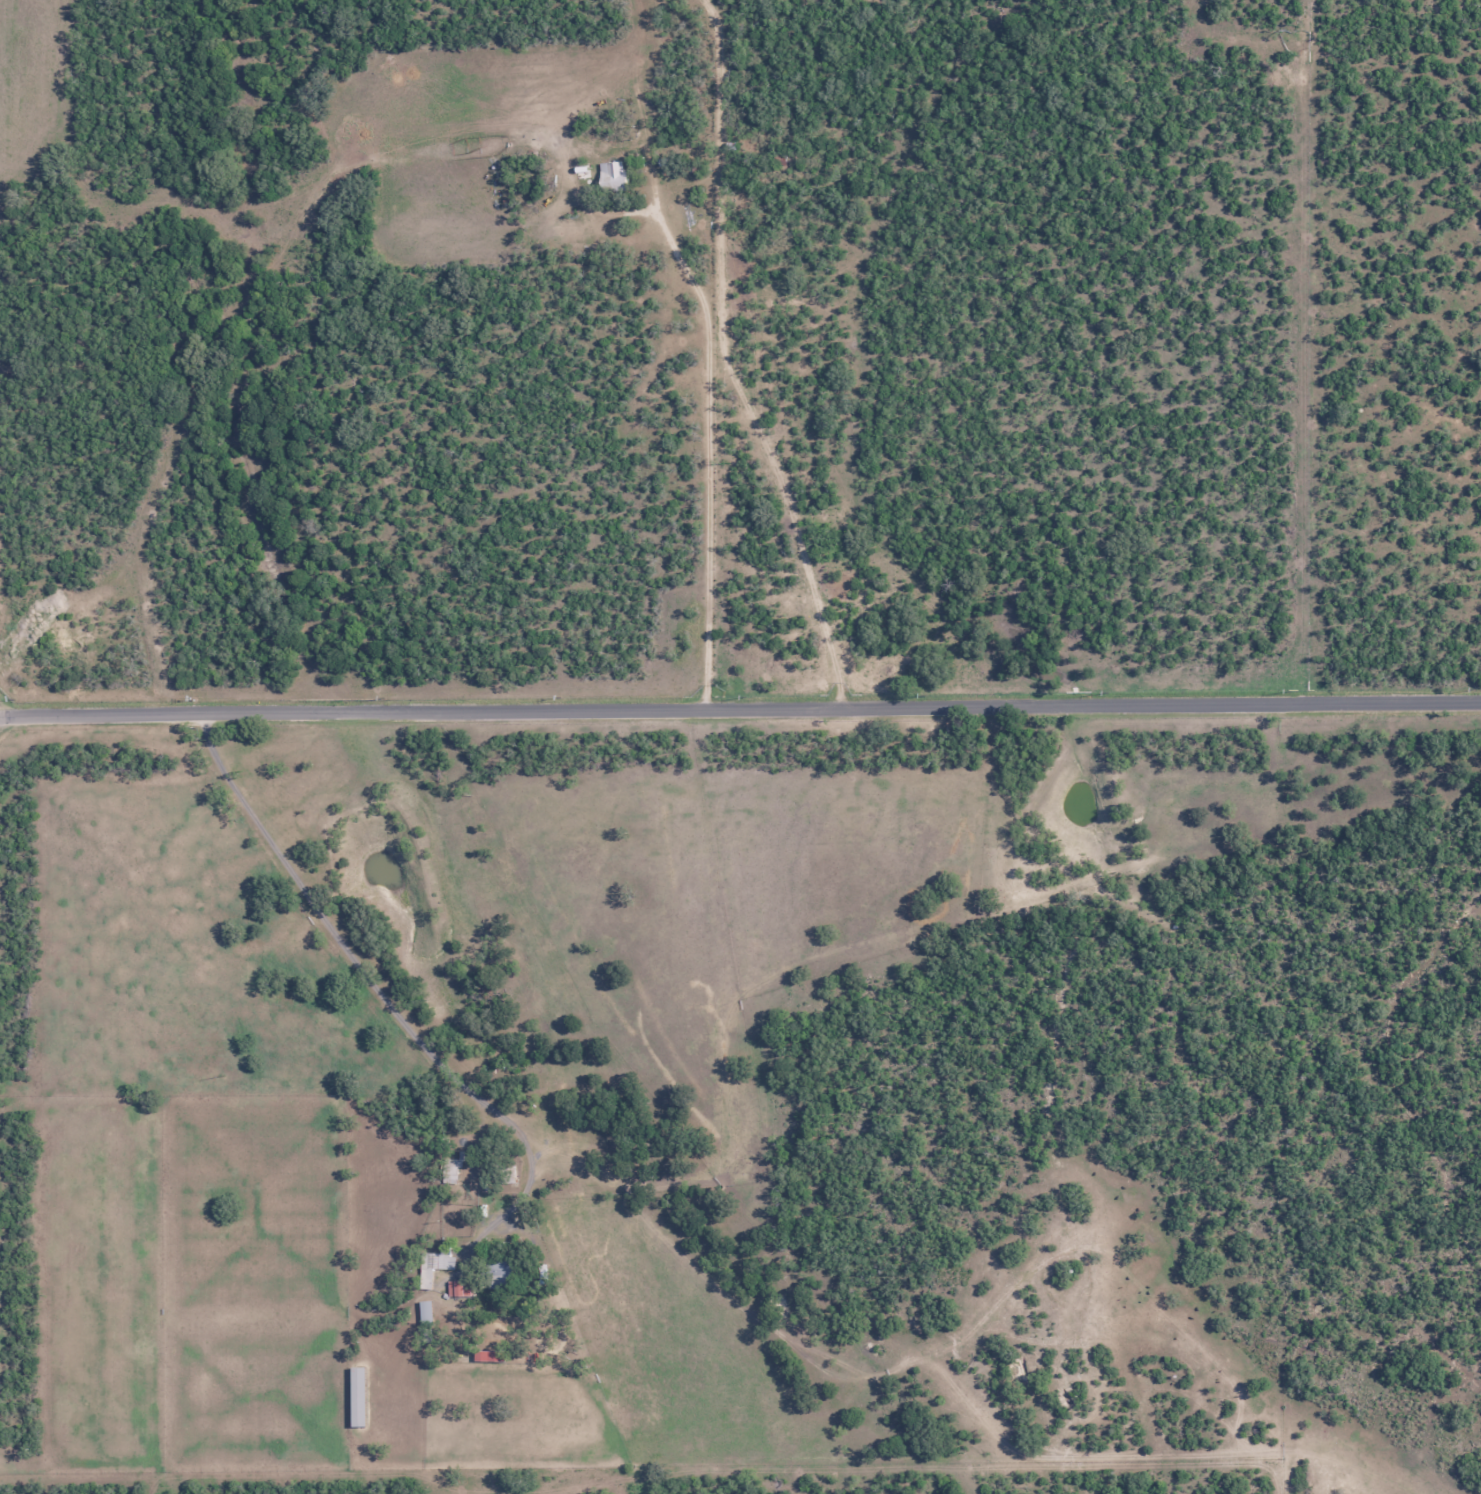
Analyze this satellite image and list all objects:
building: (614, 174)
road: (726, 361)
road: (740, 708)
road: (336, 945)
building: (450, 1168)
building: (432, 1267)
building: (500, 1273)
building: (455, 1289)
building: (425, 1314)
building: (358, 1396)

